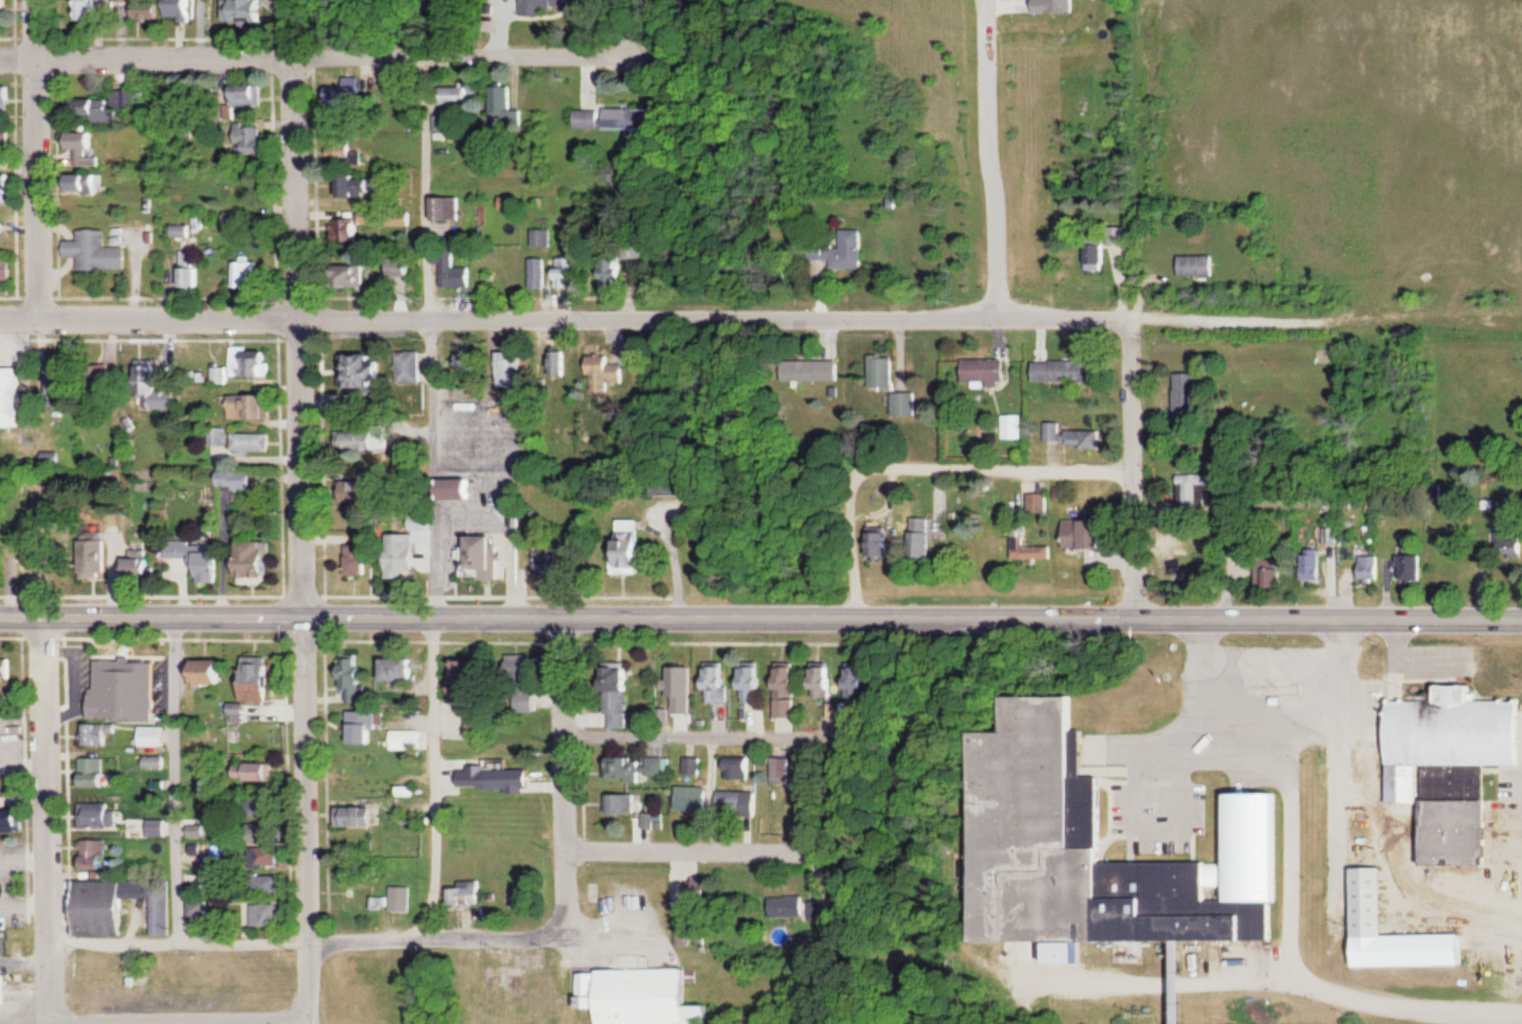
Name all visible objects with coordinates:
building: (549, 7)
building: (181, 8)
building: (95, 9)
building: (149, 9)
building: (241, 10)
building: (3, 14)
road: (315, 53)
building: (454, 95)
building: (247, 96)
building: (7, 98)
building: (503, 100)
building: (347, 102)
building: (96, 110)
building: (613, 117)
building: (444, 121)
building: (257, 139)
building: (87, 140)
building: (5, 142)
building: (349, 150)
road: (36, 157)
road: (989, 158)
building: (94, 160)
building: (87, 184)
road: (432, 185)
building: (7, 186)
building: (361, 186)
building: (448, 208)
building: (401, 217)
building: (1, 230)
building: (349, 230)
building: (1099, 247)
building: (99, 251)
building: (842, 251)
building: (407, 266)
building: (1192, 266)
building: (190, 269)
building: (453, 271)
building: (540, 272)
building: (619, 272)
building: (569, 273)
building: (7, 274)
building: (249, 274)
building: (353, 275)
road: (564, 315)
road: (1275, 319)
road: (300, 332)
building: (559, 363)
building: (255, 364)
building: (412, 366)
building: (513, 369)
building: (364, 370)
building: (816, 370)
building: (608, 371)
building: (885, 371)
building: (1056, 371)
building: (978, 373)
building: (152, 385)
building: (1181, 391)
building: (12, 397)
building: (906, 403)
building: (253, 406)
building: (1009, 427)
building: (1049, 432)
building: (367, 439)
building: (1078, 439)
building: (252, 441)
road: (431, 464)
road: (1133, 466)
road: (926, 470)
building: (236, 484)
building: (465, 488)
building: (357, 490)
building: (1188, 490)
building: (52, 495)
building: (424, 523)
building: (1074, 534)
building: (1505, 543)
building: (634, 548)
building: (1023, 548)
building: (406, 556)
building: (485, 557)
building: (179, 558)
building: (5, 560)
building: (264, 562)
building: (359, 562)
building: (142, 564)
building: (212, 565)
building: (1307, 565)
building: (1365, 568)
building: (1405, 568)
building: (1263, 574)
road: (761, 612)
building: (522, 666)
building: (9, 670)
building: (404, 670)
building: (215, 673)
building: (356, 675)
building: (751, 678)
building: (685, 679)
building: (262, 681)
building: (821, 681)
building: (851, 681)
building: (480, 682)
building: (719, 682)
building: (786, 686)
building: (128, 690)
building: (622, 698)
building: (482, 725)
building: (367, 726)
building: (1450, 726)
road: (762, 733)
building: (102, 734)
building: (155, 735)
building: (410, 739)
building: (199, 744)
building: (157, 761)
building: (695, 765)
building: (641, 767)
building: (742, 768)
building: (780, 769)
building: (95, 771)
building: (262, 771)
road: (562, 775)
road: (434, 776)
road: (176, 777)
building: (498, 777)
road: (44, 778)
building: (413, 787)
building: (696, 797)
building: (735, 801)
building: (627, 804)
building: (1442, 807)
building: (101, 815)
building: (361, 816)
road: (309, 818)
building: (655, 820)
building: (158, 827)
building: (200, 829)
building: (267, 831)
building: (1092, 837)
road: (689, 848)
building: (95, 854)
building: (268, 856)
building: (210, 880)
building: (269, 885)
building: (469, 891)
building: (368, 897)
building: (404, 898)
building: (1361, 900)
building: (119, 906)
building: (782, 908)
building: (266, 914)
road: (305, 939)
road: (48, 978)
building: (6, 991)
building: (633, 997)
building: (1168, 1007)
road: (156, 1011)

